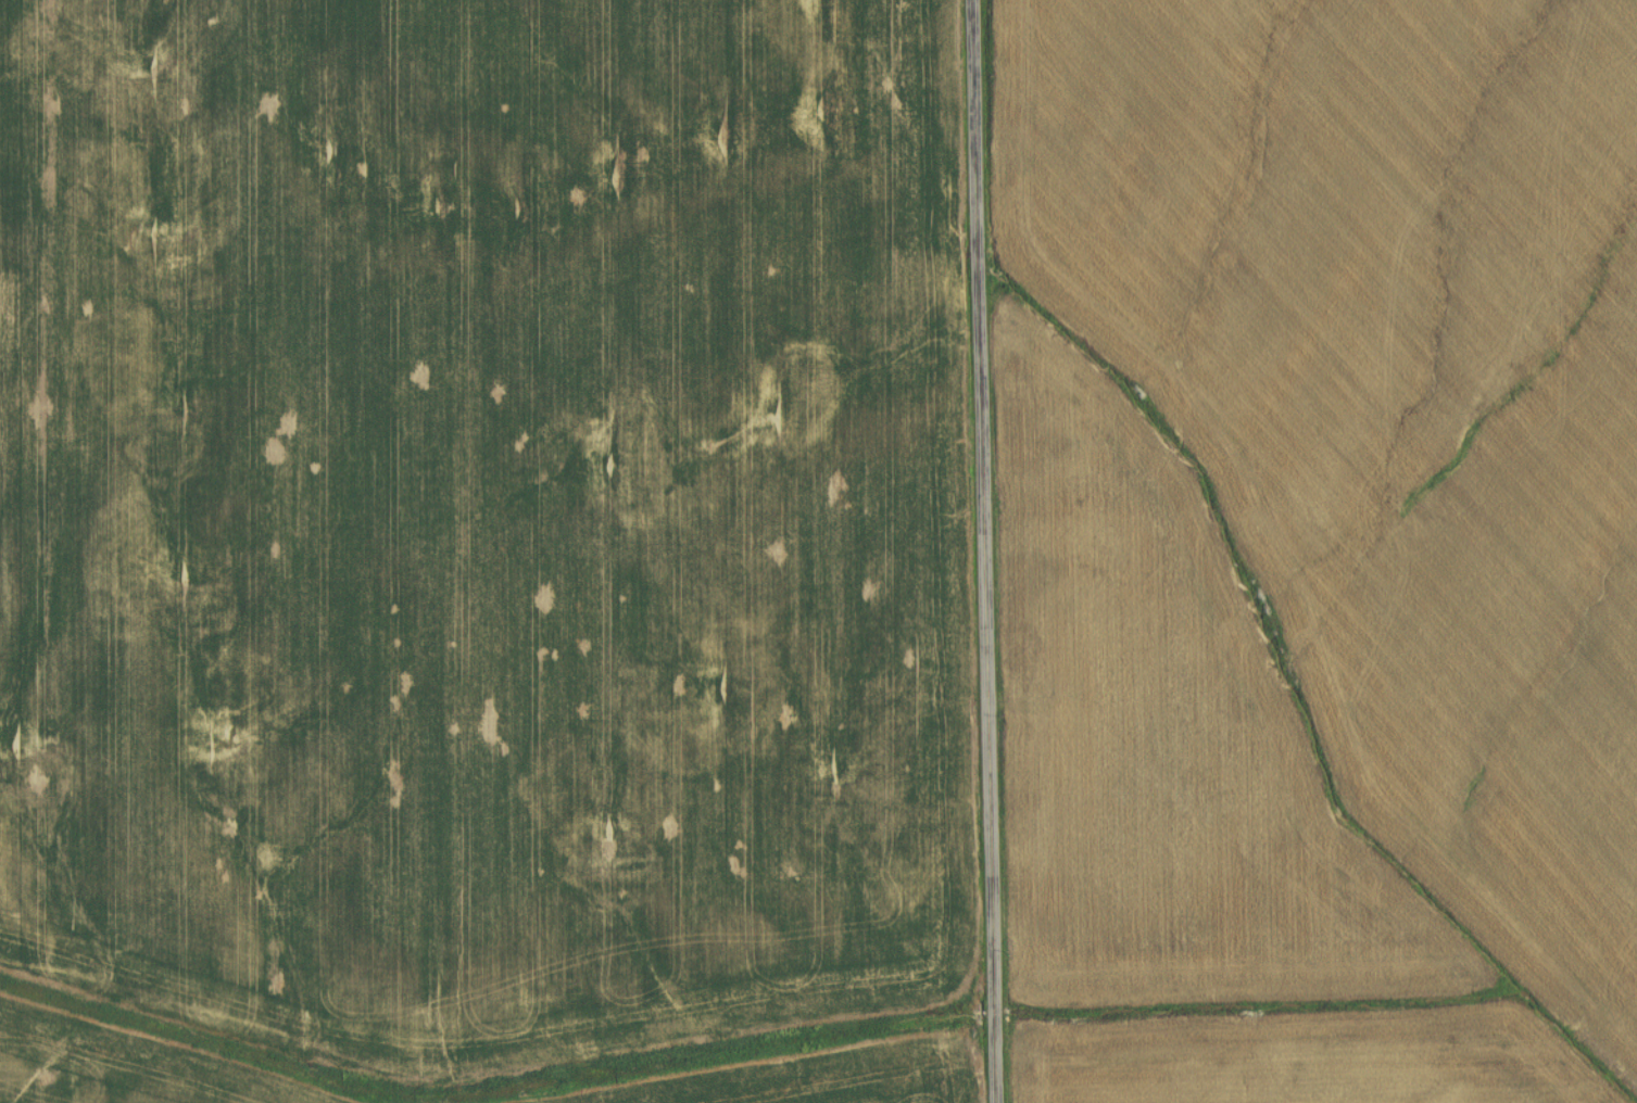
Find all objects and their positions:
road: (989, 550)

